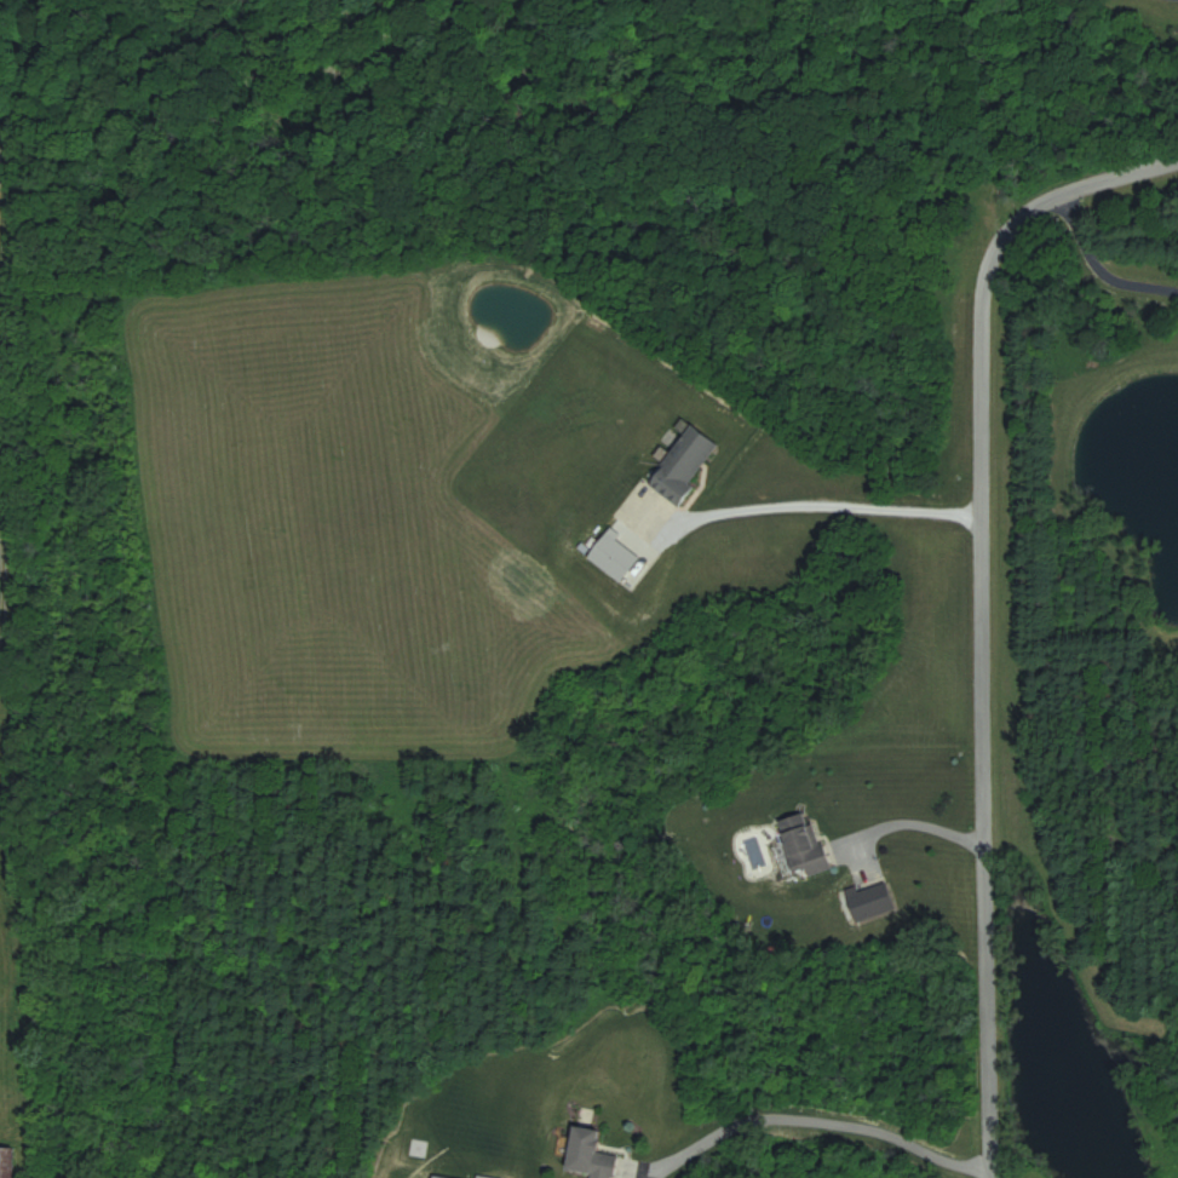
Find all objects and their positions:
road: (1094, 260)
building: (685, 462)
road: (811, 504)
road: (981, 602)
road: (912, 804)
building: (803, 845)
road: (817, 1124)
building: (590, 1155)

